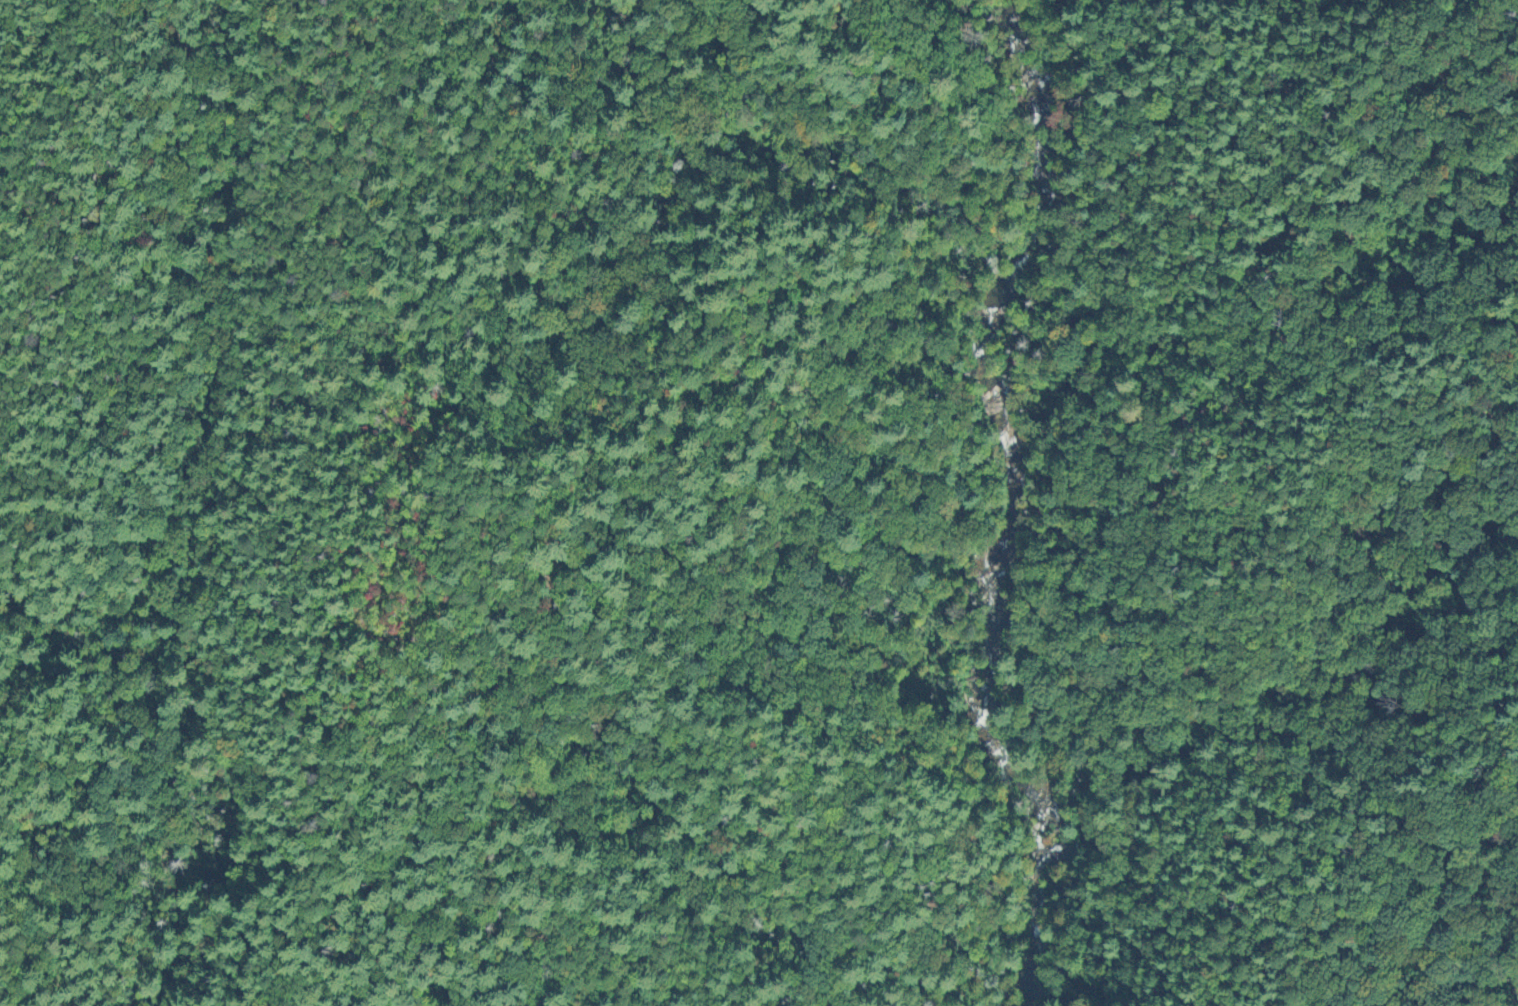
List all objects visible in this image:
river: (1003, 499)
road: (175, 596)
road: (1337, 610)
road: (981, 676)
road: (827, 833)

